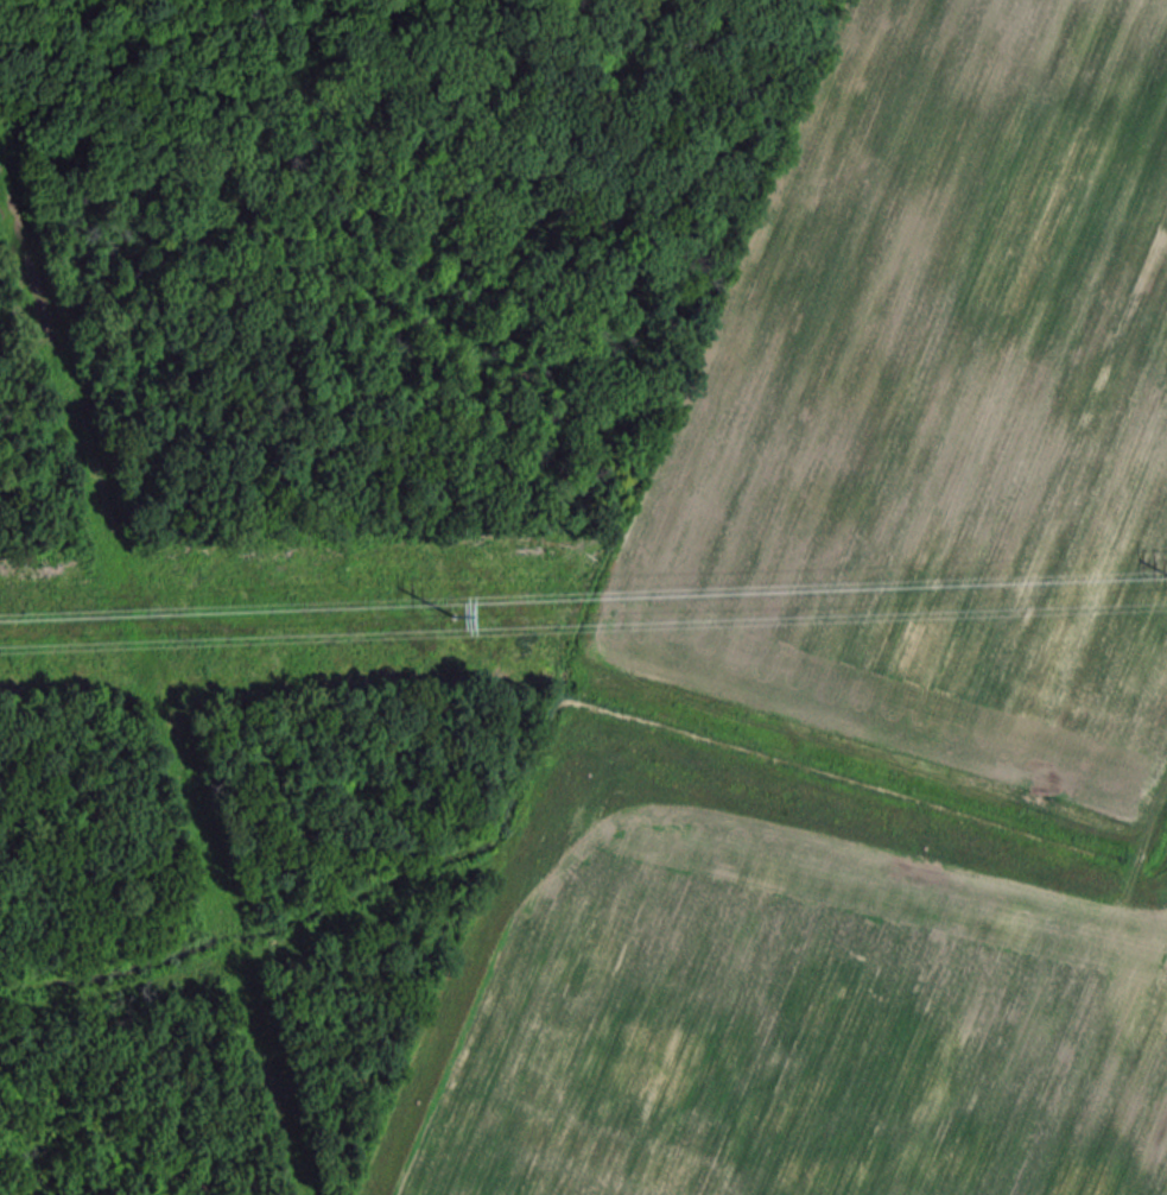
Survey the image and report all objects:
crop: (940, 411)
power tower: (449, 621)
crop: (778, 1006)

